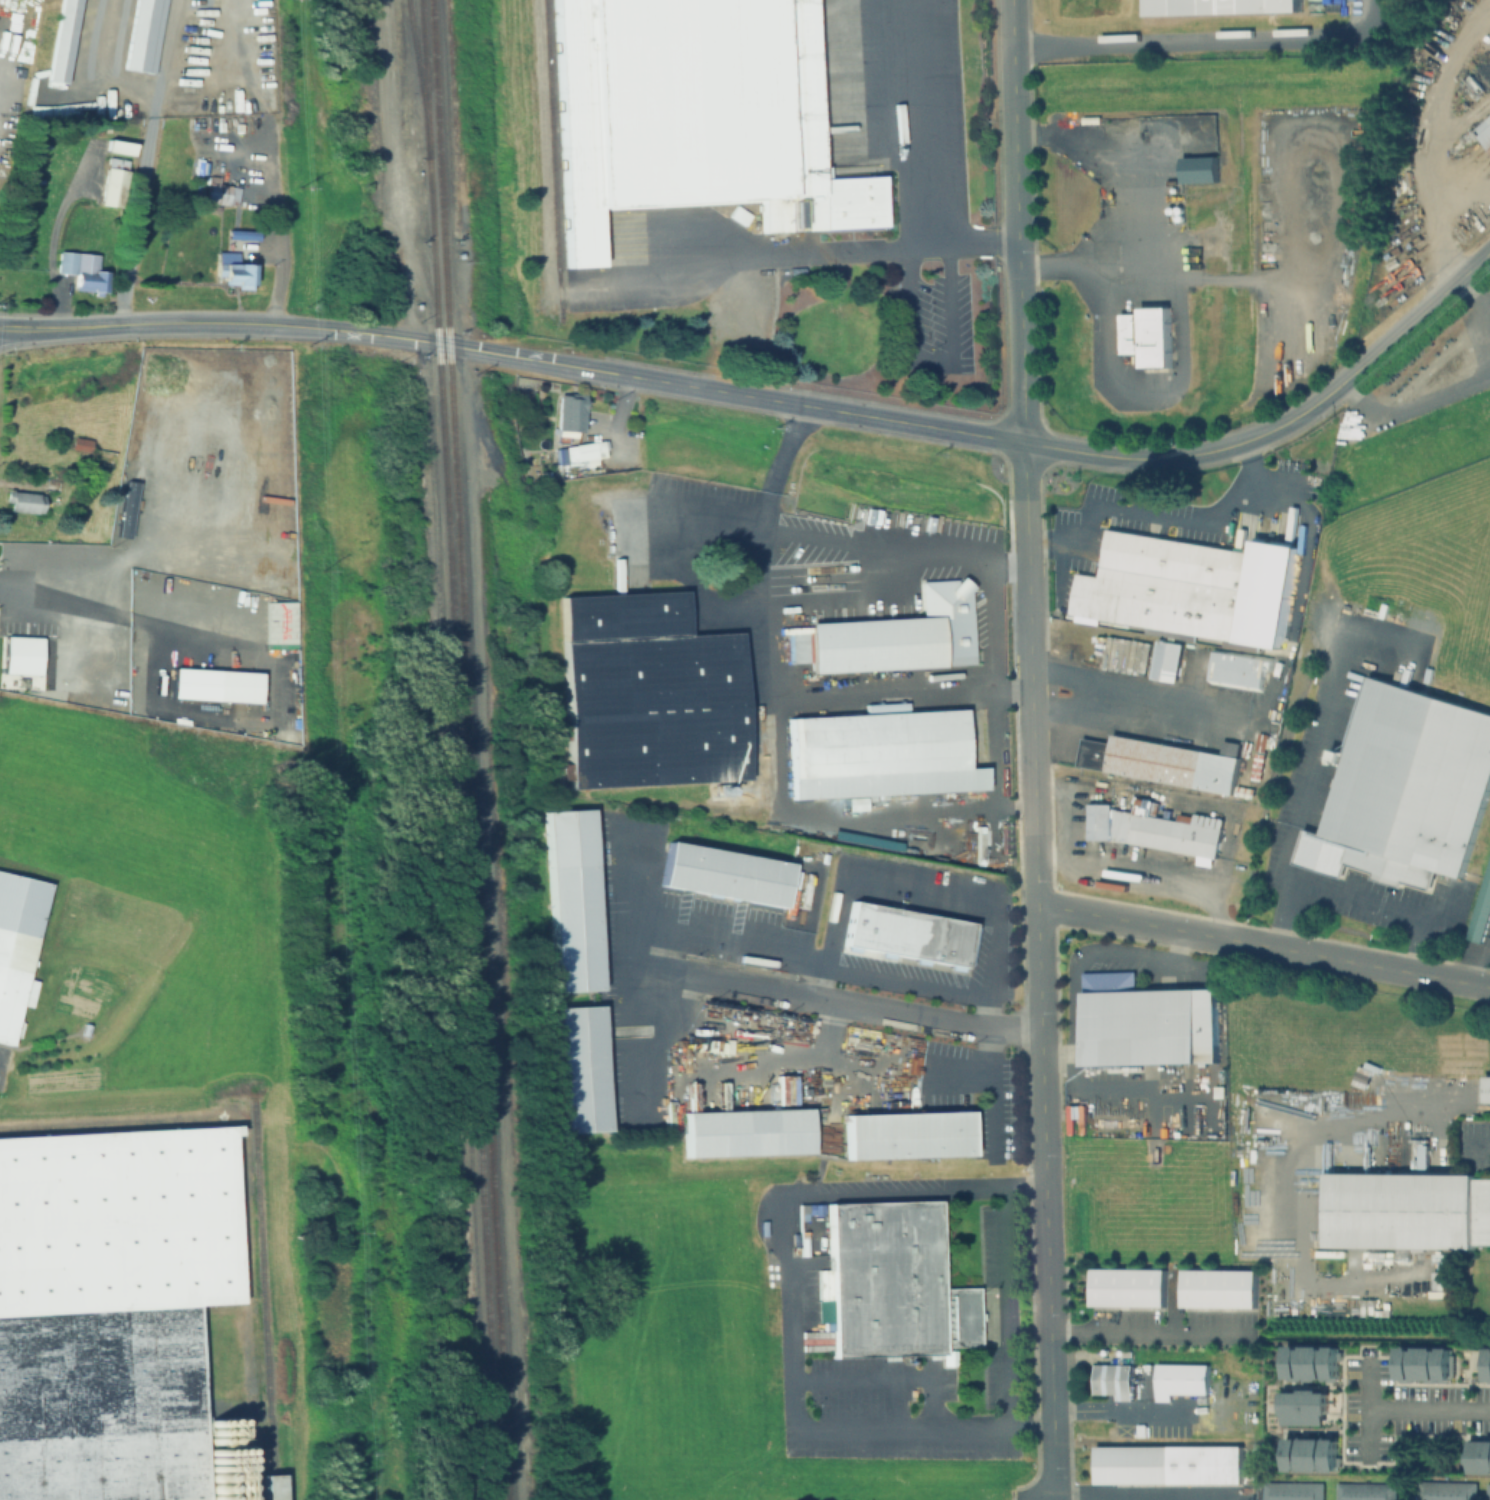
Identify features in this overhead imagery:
building: (1220, 7)
building: (143, 35)
road: (1204, 40)
building: (61, 41)
road: (169, 58)
road: (109, 63)
railway: (415, 79)
building: (693, 115)
railway: (435, 121)
road: (898, 125)
building: (1486, 137)
railway: (550, 140)
road: (1111, 143)
road: (1433, 144)
building: (117, 147)
road: (261, 159)
building: (1199, 170)
building: (110, 187)
railway: (427, 191)
building: (219, 193)
road: (1143, 205)
road: (1465, 212)
road: (135, 218)
road: (1015, 225)
building: (241, 235)
road: (819, 254)
road: (1477, 266)
building: (81, 270)
building: (235, 275)
road: (1476, 315)
road: (1412, 324)
road: (65, 326)
road: (367, 334)
building: (1147, 337)
road: (1178, 346)
road: (931, 361)
railway: (447, 362)
building: (1398, 376)
road: (1409, 401)
building: (569, 414)
building: (121, 435)
road: (992, 444)
building: (578, 454)
building: (25, 503)
road: (709, 513)
road: (1151, 515)
road: (879, 573)
building: (1189, 590)
road: (126, 611)
road: (993, 612)
building: (282, 620)
building: (899, 635)
building: (21, 655)
building: (1167, 662)
building: (1238, 670)
road: (1030, 677)
road: (774, 679)
building: (221, 681)
building: (648, 693)
road: (1173, 704)
building: (878, 754)
building: (1164, 761)
road: (1310, 770)
building: (1405, 790)
building: (1154, 828)
building: (864, 840)
building: (723, 876)
road: (1348, 892)
building: (572, 900)
building: (1480, 909)
road: (1138, 922)
building: (906, 936)
railway: (468, 941)
building: (16, 942)
road: (1472, 961)
road: (1363, 964)
road: (636, 974)
road: (968, 985)
railway: (480, 991)
road: (838, 1003)
road: (827, 1005)
road: (1041, 1012)
building: (1146, 1023)
road: (818, 1051)
building: (579, 1070)
road: (994, 1072)
building: (1487, 1091)
building: (746, 1134)
building: (907, 1137)
road: (1045, 1187)
building: (1407, 1209)
building: (892, 1283)
railway: (262, 1287)
building: (1127, 1287)
building: (1219, 1287)
road: (1007, 1308)
building: (109, 1309)
road: (1149, 1333)
building: (1486, 1358)
building: (1309, 1360)
building: (1423, 1361)
road: (1048, 1374)
road: (887, 1378)
building: (1179, 1378)
building: (1112, 1380)
road: (792, 1382)
building: (1303, 1406)
road: (1374, 1409)
road: (1432, 1411)
building: (1308, 1451)
building: (1478, 1454)
building: (1167, 1463)
building: (269, 1486)
railway: (272, 1486)
building: (1443, 1490)
building: (1291, 1491)
building: (1364, 1491)
building: (1487, 1491)
road: (1152, 1494)

